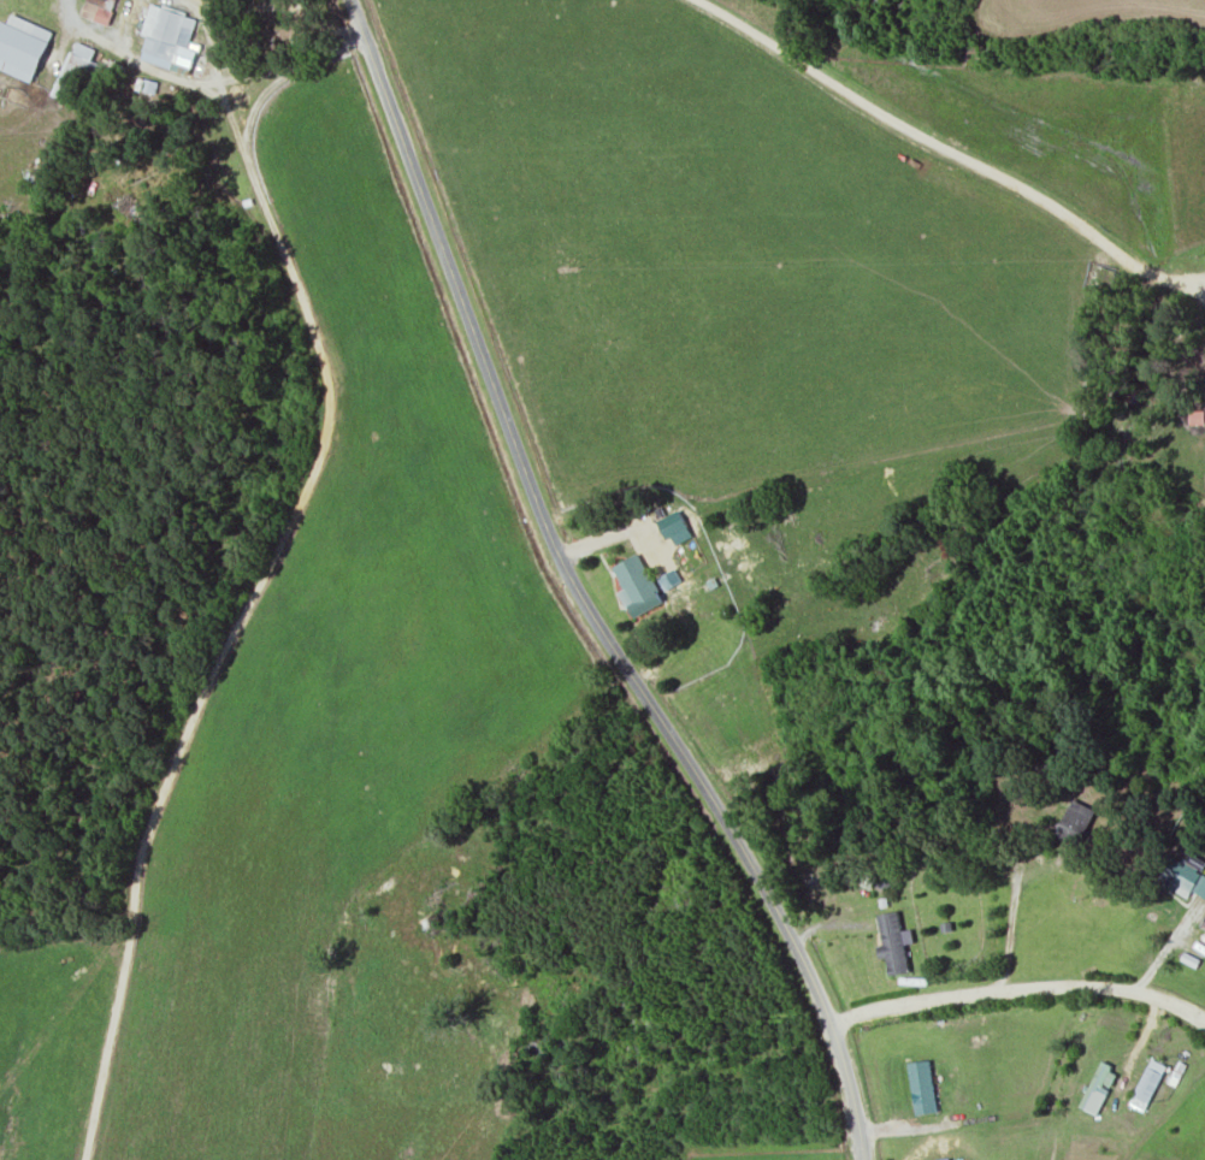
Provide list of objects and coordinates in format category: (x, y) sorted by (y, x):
building: (98, 8)
building: (169, 35)
building: (22, 45)
building: (76, 69)
building: (146, 83)
building: (675, 526)
building: (640, 584)
road: (578, 594)
building: (1076, 822)
building: (1187, 877)
road: (1010, 921)
building: (1203, 923)
building: (894, 942)
road: (1017, 988)
road: (1201, 1016)
building: (1147, 1084)
building: (923, 1085)
building: (1099, 1087)

